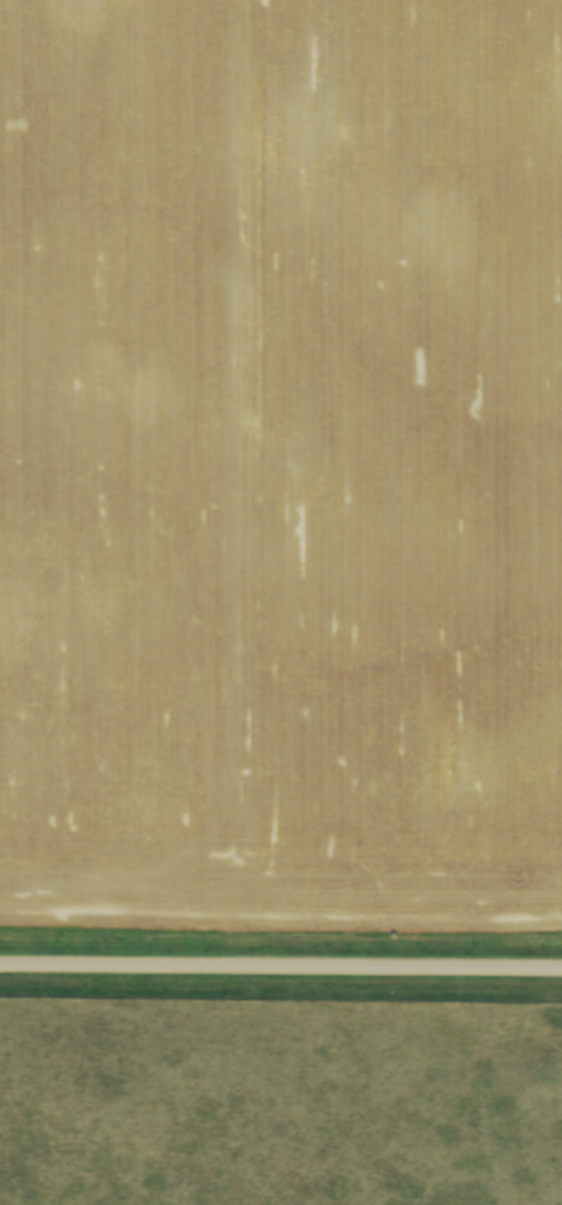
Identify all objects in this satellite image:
road: (281, 960)

